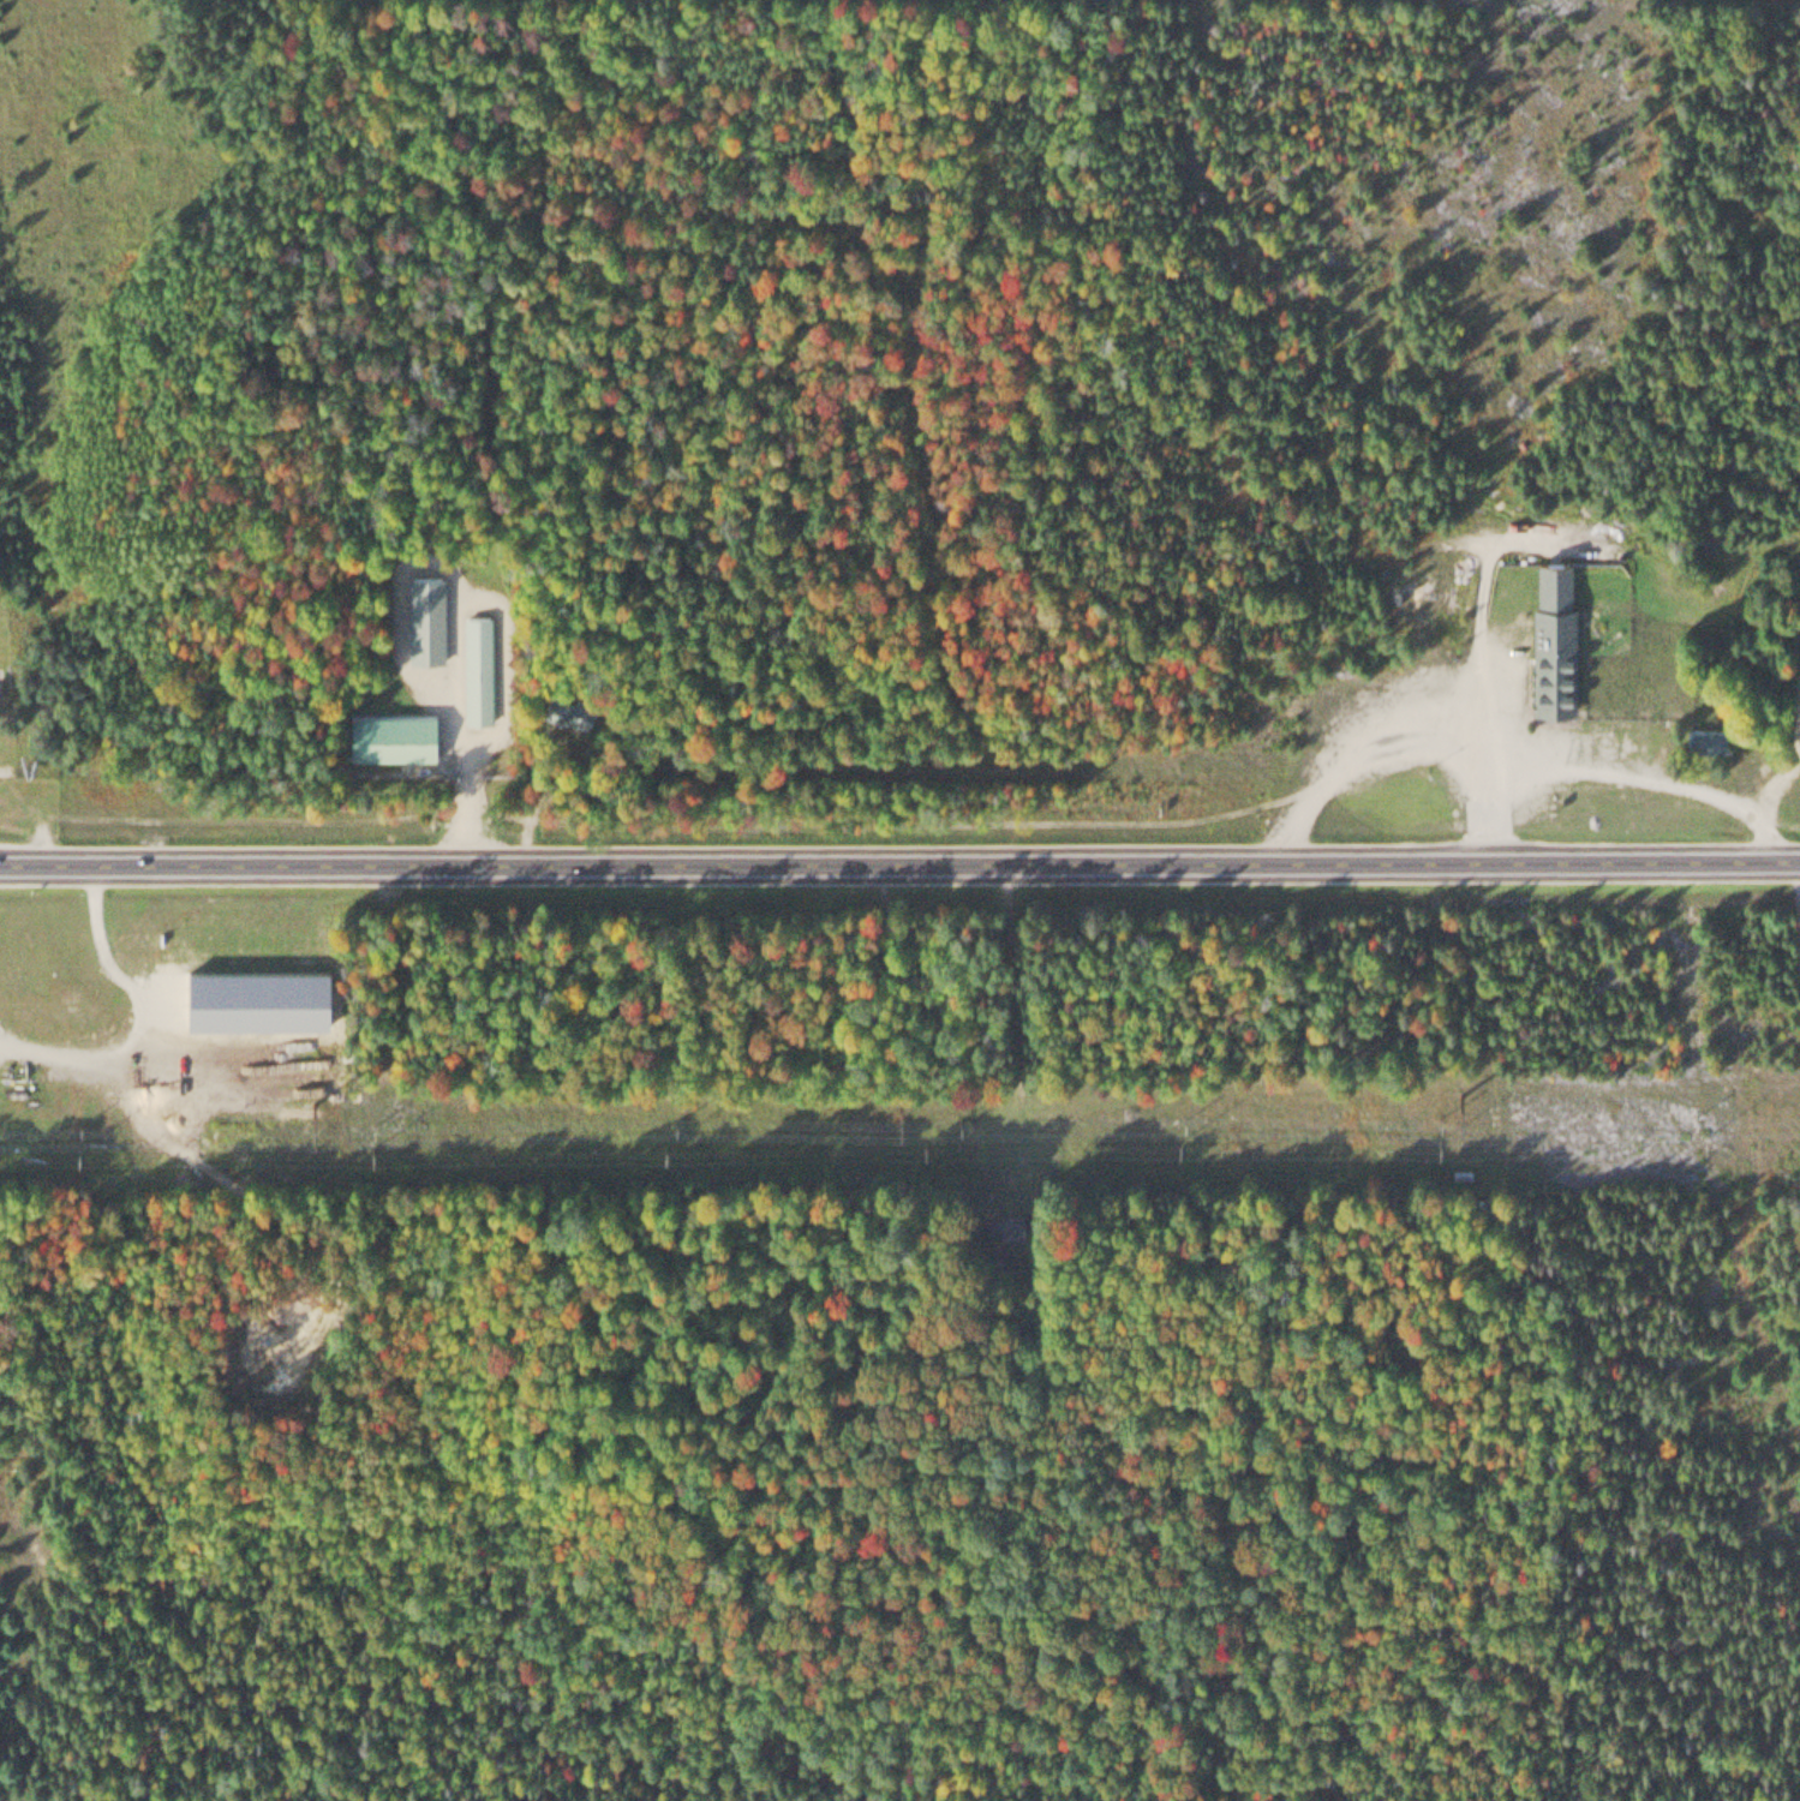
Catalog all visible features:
building: (426, 618)
building: (1555, 641)
building: (479, 668)
building: (572, 711)
building: (394, 736)
building: (1709, 740)
road: (899, 861)
road: (1798, 921)
road: (863, 1033)
road: (1479, 1045)
power tower: (1453, 1089)
power tower: (310, 1099)
power tower: (899, 1099)
building: (1010, 1225)

